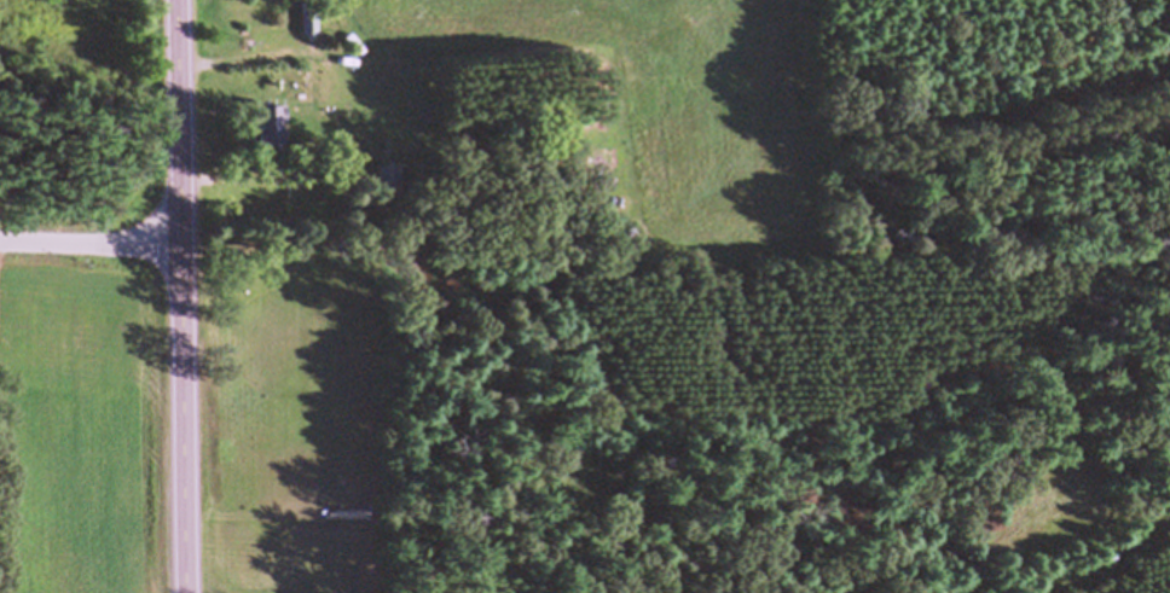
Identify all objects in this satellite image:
building: (303, 24)
building: (263, 127)
building: (386, 179)
road: (86, 240)
road: (173, 296)

